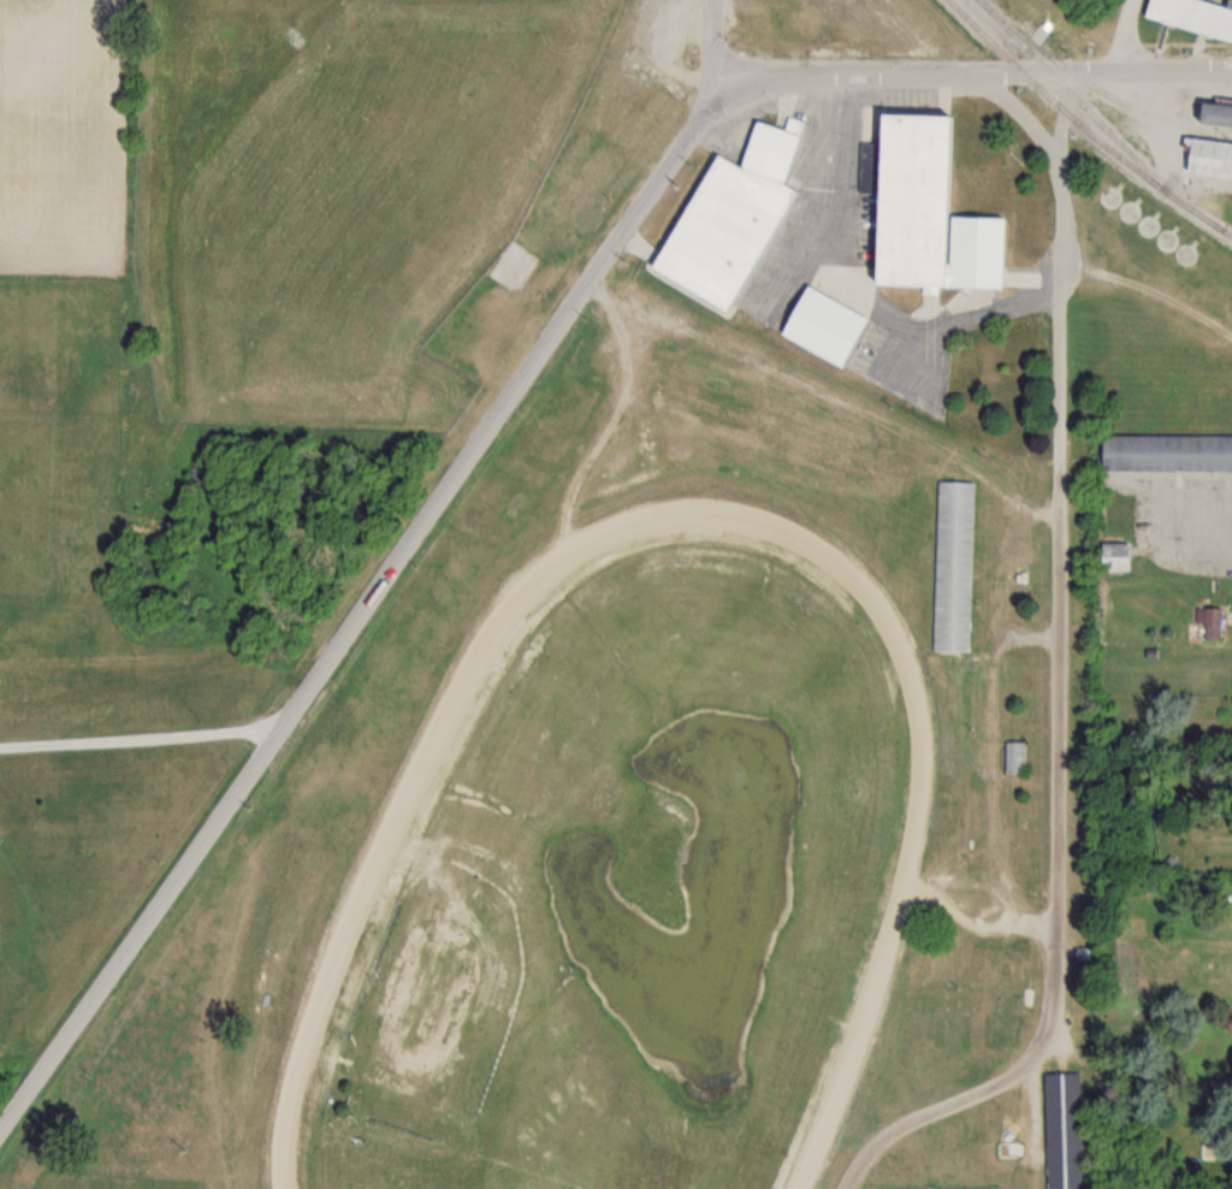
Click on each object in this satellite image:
building: (1192, 16)
road: (1121, 36)
road: (967, 73)
railway: (1109, 95)
railway: (1089, 110)
building: (1212, 114)
railway: (1084, 125)
building: (1207, 158)
building: (920, 209)
building: (728, 217)
building: (821, 326)
building: (751, 410)
building: (1165, 451)
building: (1112, 556)
building: (952, 566)
road: (386, 579)
road: (1059, 682)
road: (142, 737)
building: (1014, 756)
park: (654, 829)
track: (387, 854)
building: (1061, 1130)

